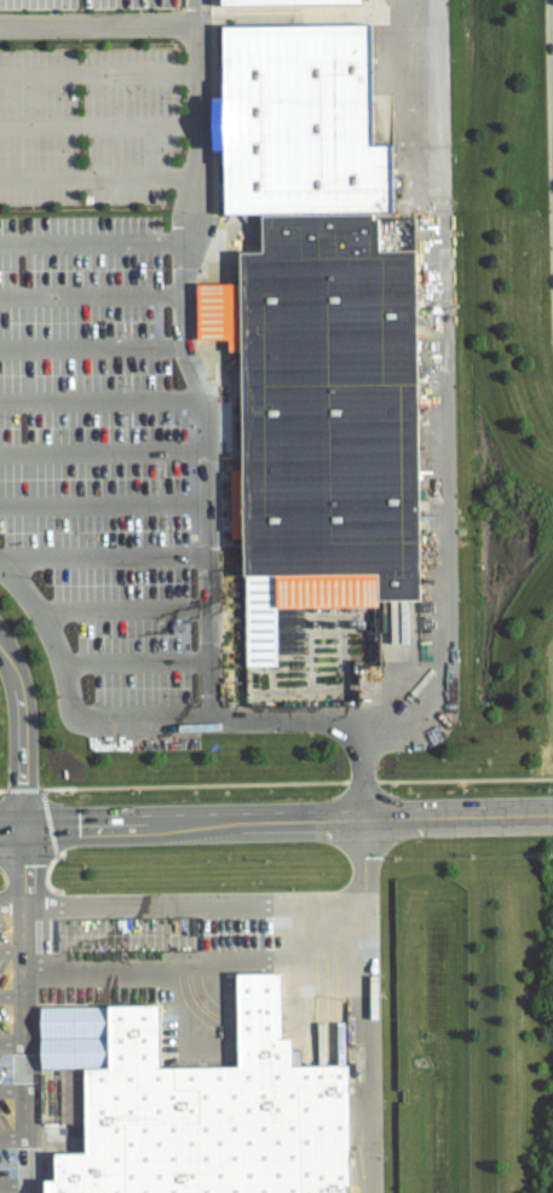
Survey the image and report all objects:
building: (284, 1)
road: (98, 22)
road: (551, 58)
road: (98, 71)
road: (552, 87)
building: (307, 109)
road: (198, 121)
road: (125, 122)
road: (96, 175)
road: (90, 295)
road: (91, 345)
road: (197, 388)
road: (100, 396)
building: (319, 414)
road: (442, 437)
road: (103, 450)
road: (104, 501)
road: (104, 554)
road: (125, 609)
road: (134, 656)
road: (134, 719)
road: (24, 732)
road: (276, 820)
road: (10, 897)
road: (192, 900)
road: (10, 949)
road: (192, 959)
road: (11, 995)
road: (195, 1002)
road: (367, 1005)
road: (22, 1009)
road: (11, 1041)
road: (11, 1089)
building: (198, 1103)
road: (12, 1134)
road: (12, 1181)

